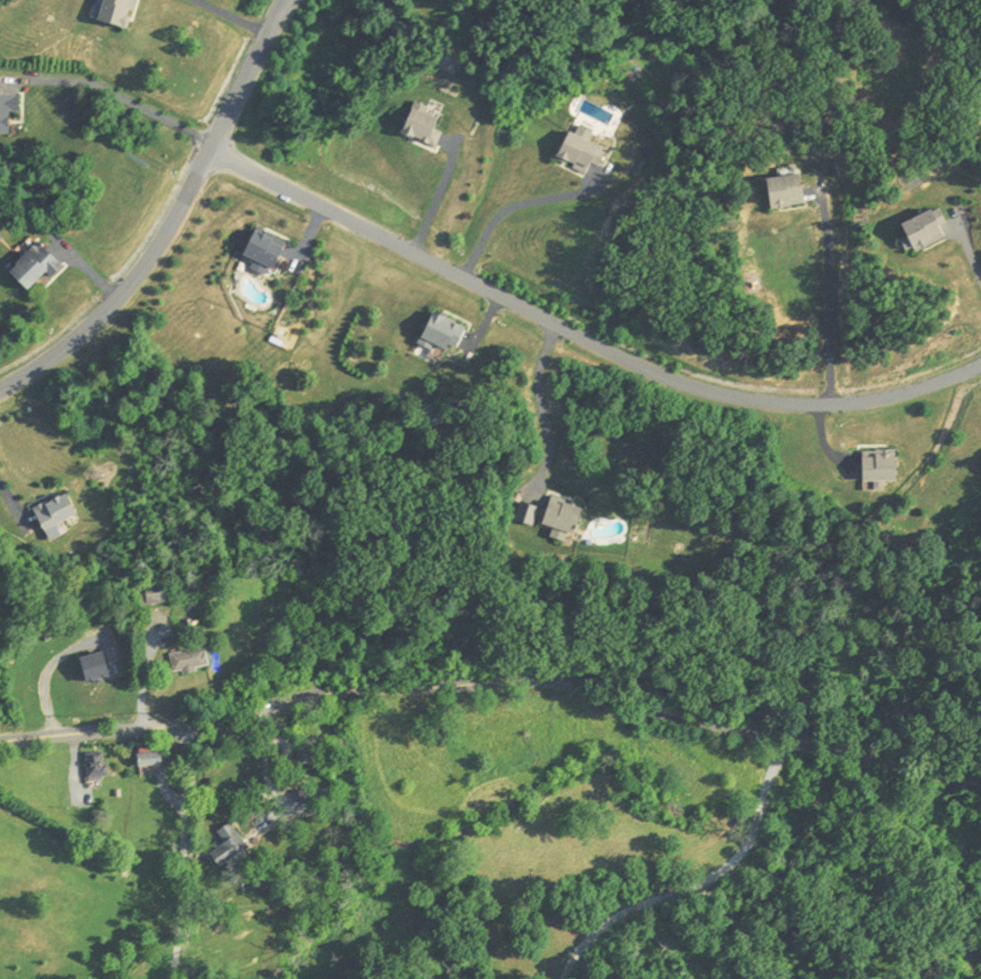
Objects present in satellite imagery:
building: (115, 14)
road: (229, 18)
road: (122, 99)
building: (7, 111)
building: (421, 128)
building: (577, 153)
building: (784, 192)
road: (437, 198)
road: (514, 205)
road: (174, 220)
building: (922, 231)
building: (262, 249)
road: (967, 249)
building: (33, 267)
road: (829, 297)
building: (441, 335)
road: (582, 337)
road: (542, 414)
building: (878, 467)
road: (4, 498)
building: (53, 513)
building: (561, 517)
building: (155, 593)
building: (187, 661)
building: (92, 669)
road: (46, 679)
road: (495, 683)
building: (304, 756)
building: (147, 761)
road: (265, 763)
building: (94, 768)
road: (776, 769)
road: (762, 810)
building: (225, 847)
road: (176, 853)
road: (666, 901)

